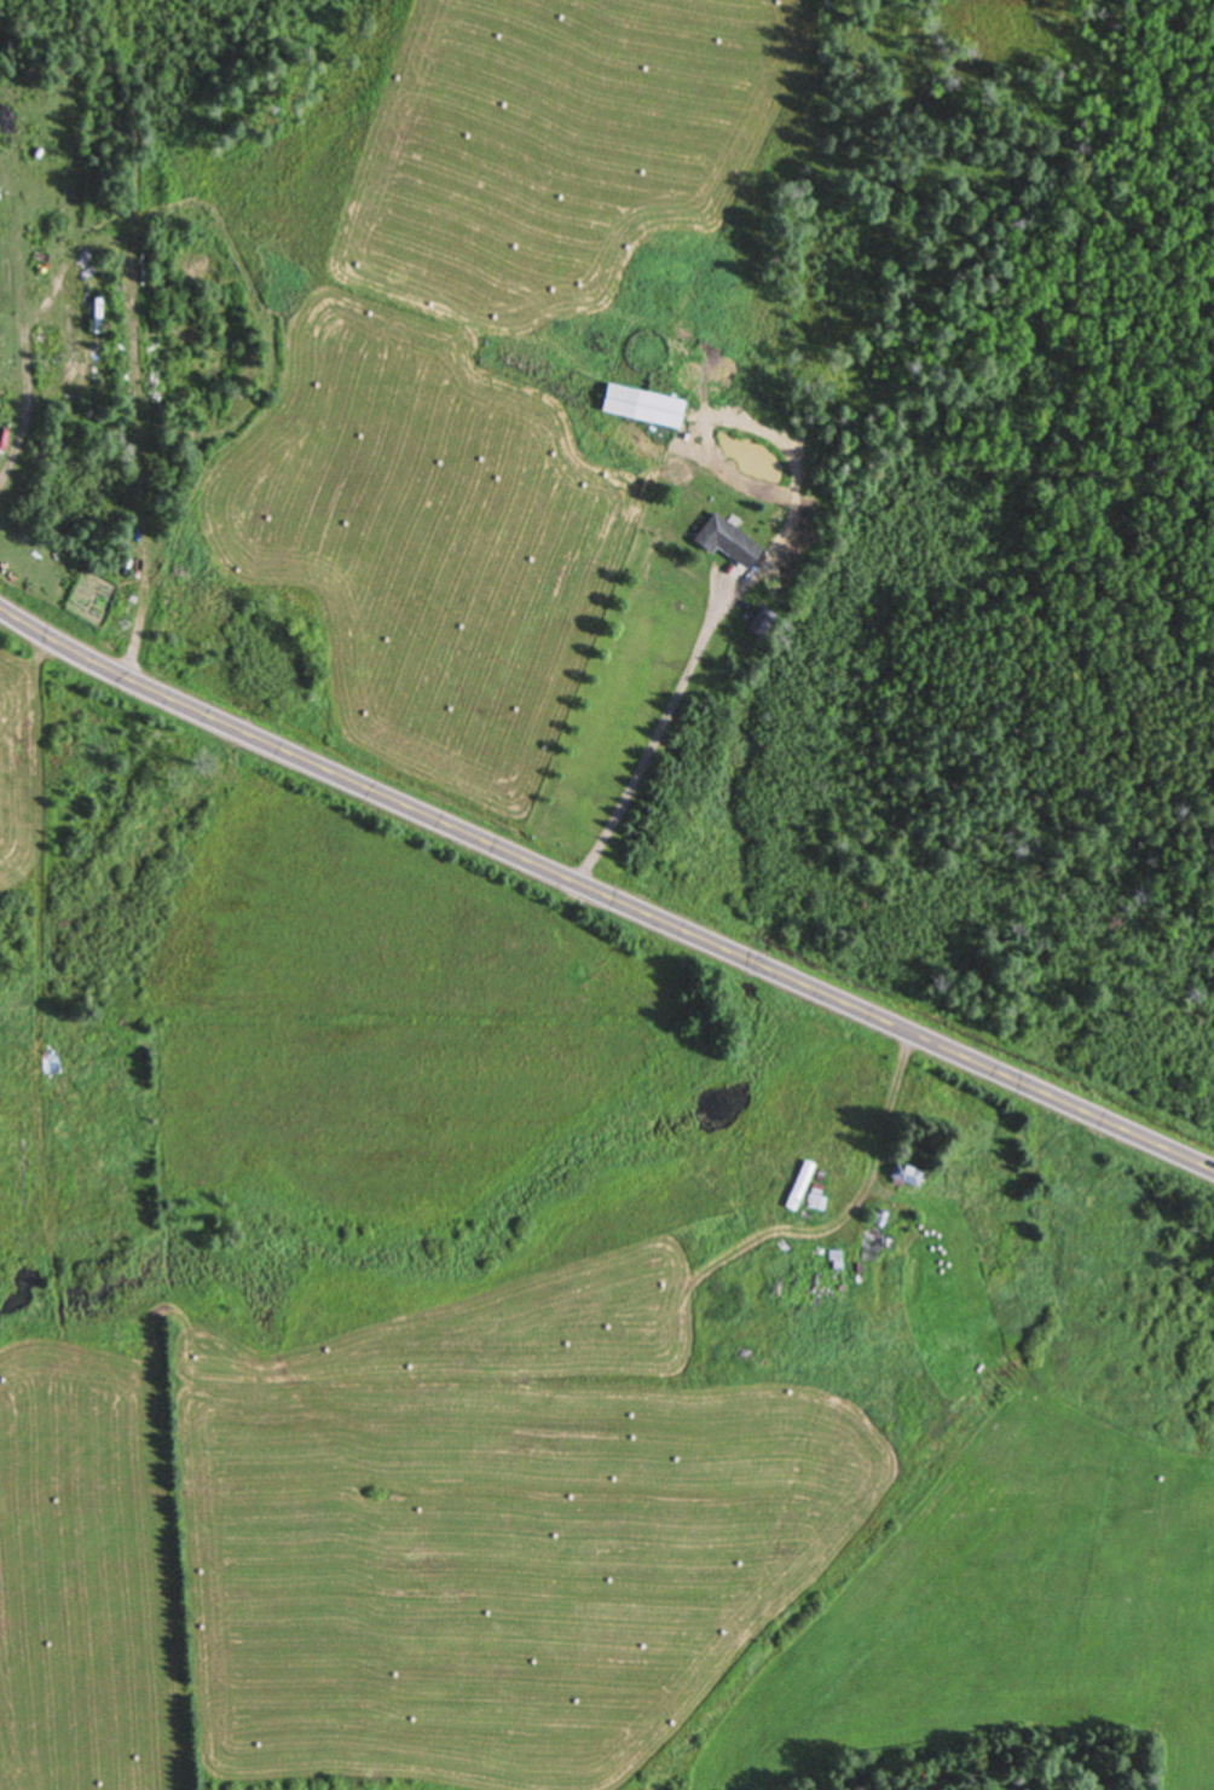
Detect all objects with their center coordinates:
building: (97, 318)
road: (134, 342)
building: (642, 406)
building: (725, 543)
road: (602, 894)
building: (53, 1063)
building: (906, 1177)
building: (799, 1186)
building: (816, 1201)
building: (871, 1247)

